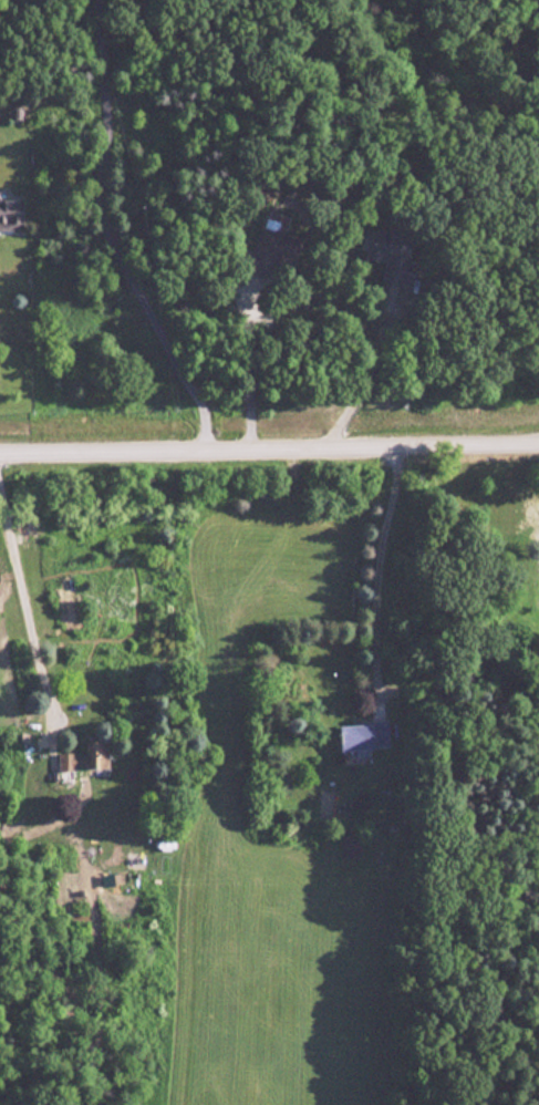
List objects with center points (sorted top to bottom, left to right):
building: (19, 112)
building: (12, 214)
park: (487, 217)
road: (106, 233)
building: (385, 249)
building: (273, 250)
road: (269, 443)
road: (379, 567)
road: (21, 608)
building: (364, 736)
building: (72, 764)

